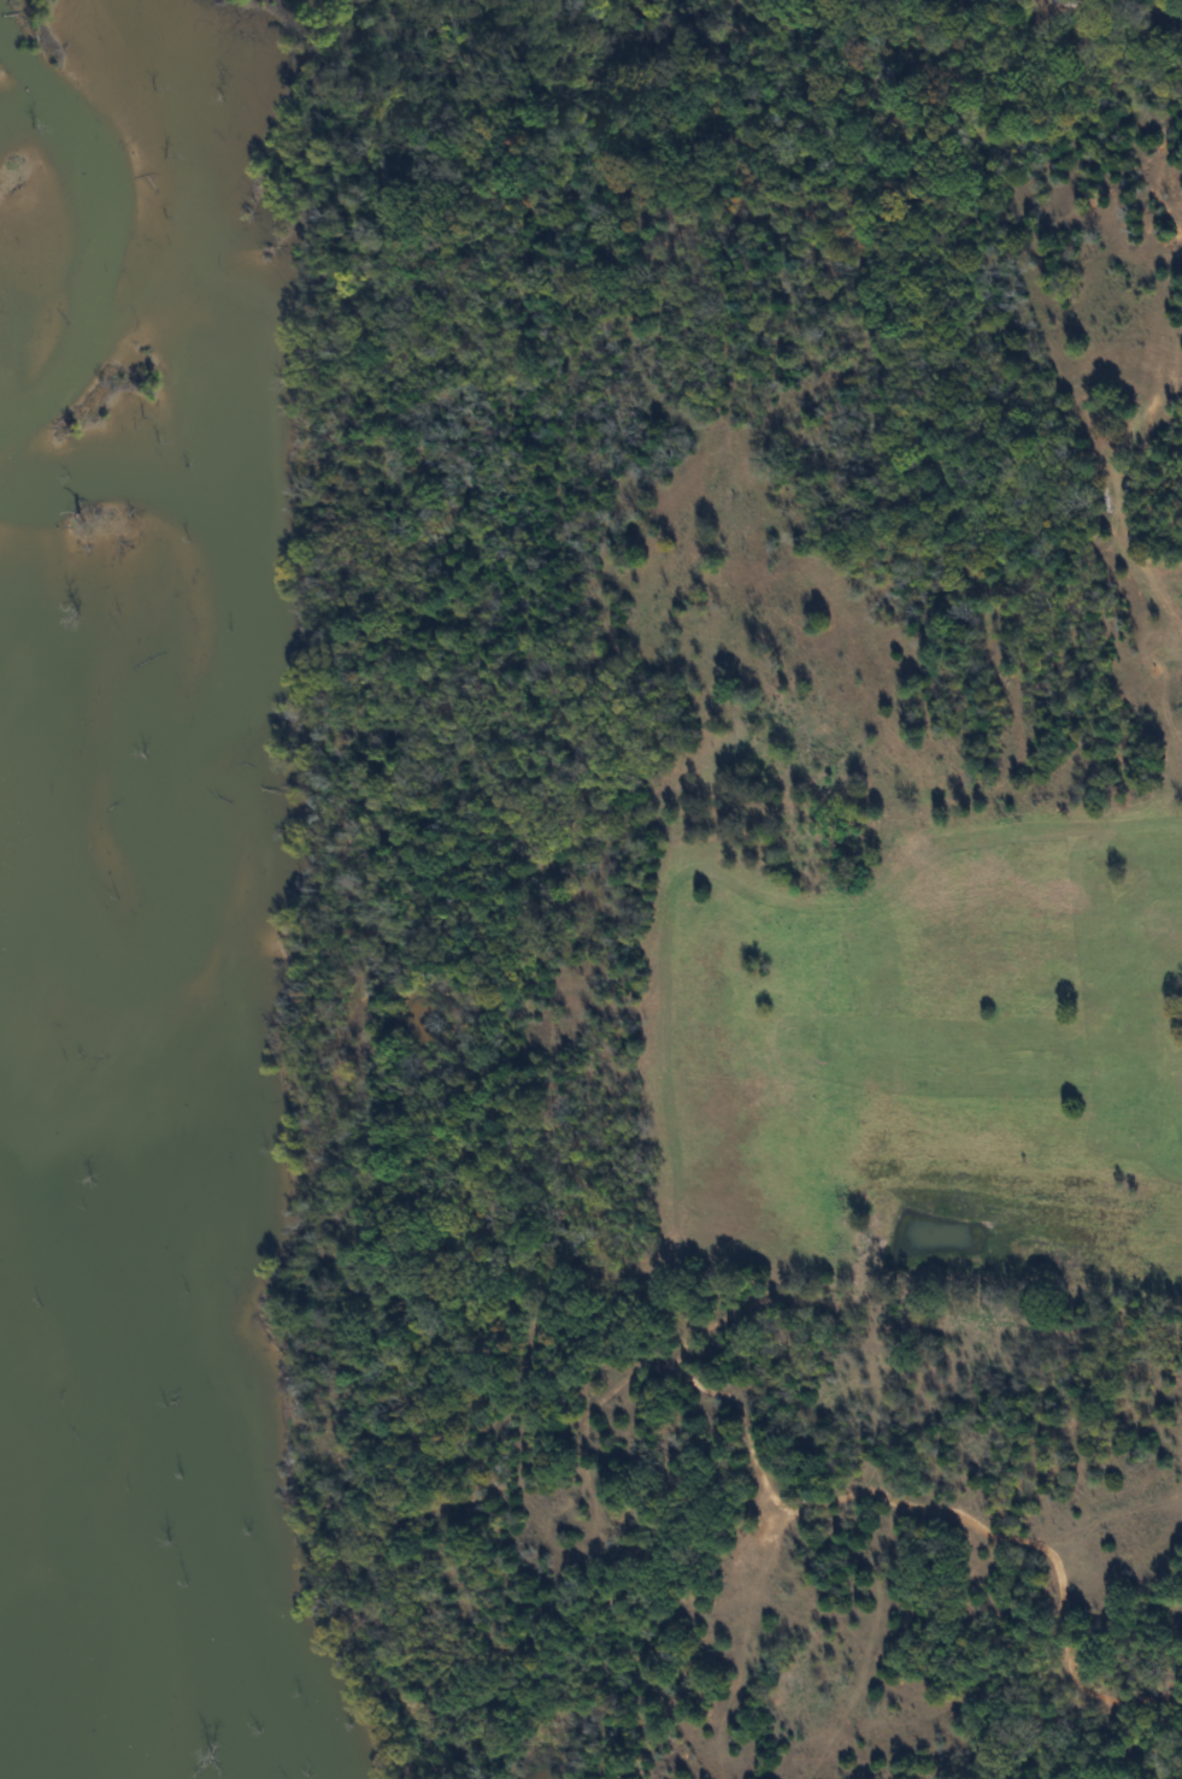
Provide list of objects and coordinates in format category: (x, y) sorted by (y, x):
road: (1115, 13)

